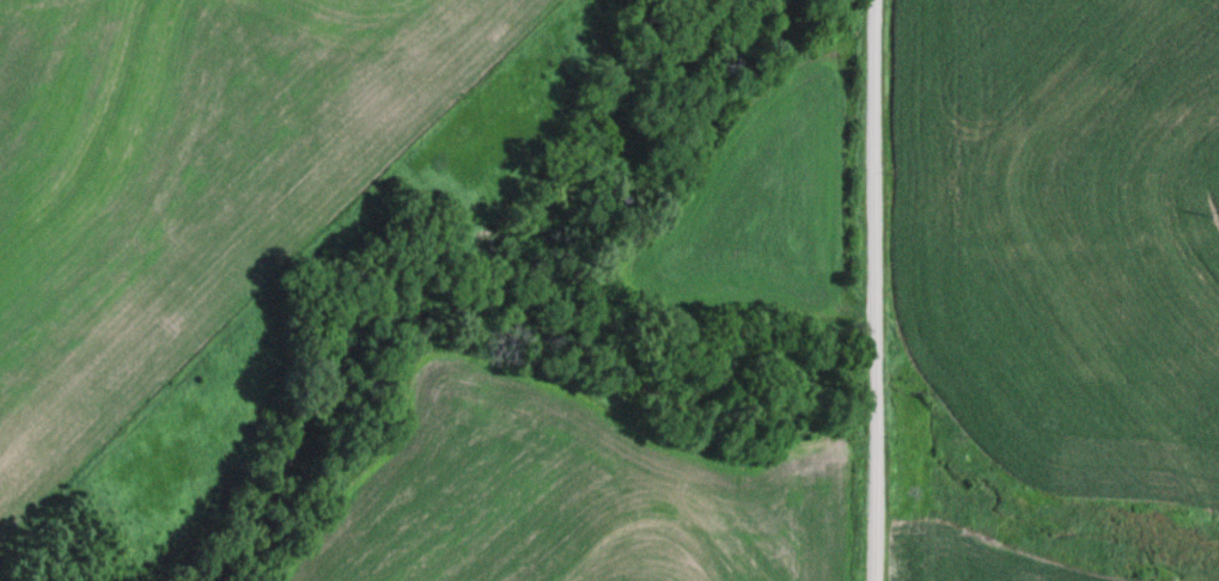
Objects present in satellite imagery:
road: (868, 290)

